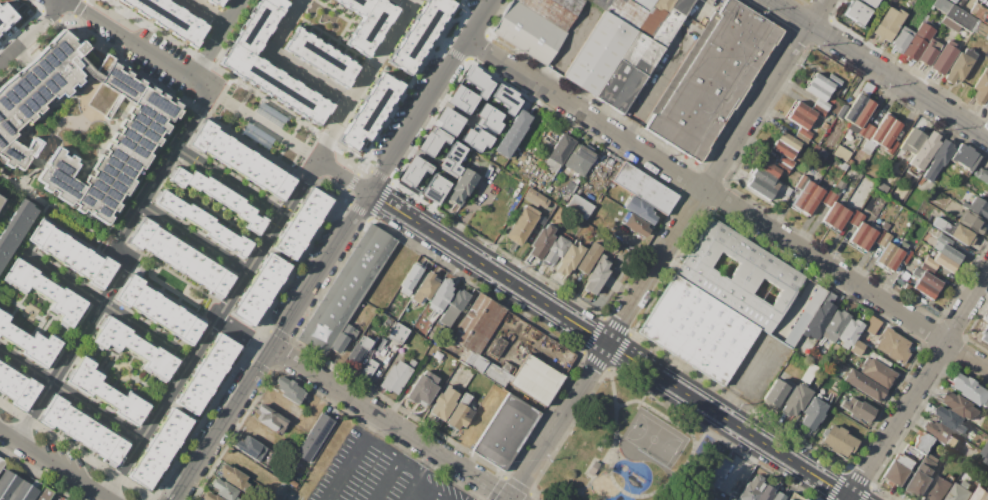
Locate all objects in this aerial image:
road: (65, 1)
building: (953, 1)
building: (216, 2)
road: (411, 2)
building: (869, 2)
building: (645, 3)
building: (357, 5)
building: (942, 5)
building: (554, 10)
road: (700, 10)
building: (624, 11)
building: (856, 11)
building: (979, 12)
road: (204, 13)
building: (5, 14)
building: (172, 17)
building: (654, 17)
building: (961, 18)
building: (944, 20)
building: (671, 21)
building: (889, 22)
building: (370, 26)
building: (981, 30)
building: (528, 32)
road: (33, 33)
building: (418, 33)
road: (216, 39)
building: (901, 39)
building: (918, 41)
road: (138, 47)
road: (568, 47)
building: (928, 52)
building: (599, 53)
building: (320, 57)
parking lot: (162, 58)
building: (944, 58)
road: (287, 63)
building: (959, 66)
road: (878, 69)
building: (629, 72)
road: (367, 80)
building: (478, 80)
building: (834, 80)
building: (712, 81)
building: (822, 82)
building: (273, 84)
road: (655, 85)
building: (981, 87)
building: (817, 90)
road: (431, 96)
building: (460, 97)
building: (506, 97)
building: (822, 104)
building: (986, 104)
building: (855, 108)
building: (369, 110)
building: (818, 110)
building: (804, 111)
building: (842, 111)
building: (863, 113)
building: (270, 114)
building: (489, 116)
road: (78, 119)
building: (798, 119)
building: (447, 120)
park: (266, 123)
road: (264, 126)
building: (825, 126)
building: (142, 128)
building: (863, 128)
building: (881, 128)
building: (804, 132)
building: (869, 132)
building: (513, 133)
building: (890, 134)
building: (258, 135)
building: (474, 138)
building: (800, 138)
building: (431, 141)
building: (788, 141)
building: (912, 141)
building: (868, 146)
building: (891, 147)
building: (816, 148)
building: (783, 149)
building: (924, 150)
building: (559, 152)
building: (823, 153)
building: (841, 153)
building: (965, 157)
building: (242, 158)
building: (938, 158)
building: (450, 159)
building: (580, 159)
building: (786, 161)
building: (850, 162)
building: (842, 166)
building: (768, 167)
building: (782, 167)
road: (161, 170)
building: (907, 170)
building: (411, 171)
road: (343, 176)
building: (983, 176)
building: (764, 177)
road: (229, 182)
building: (802, 182)
building: (462, 186)
building: (838, 187)
building: (434, 188)
building: (644, 188)
building: (760, 188)
building: (788, 191)
building: (803, 195)
building: (824, 195)
building: (220, 197)
building: (535, 198)
building: (783, 199)
building: (831, 199)
building: (852, 200)
building: (1, 201)
building: (811, 201)
road: (727, 204)
road: (9, 206)
building: (579, 207)
road: (470, 208)
building: (978, 208)
building: (639, 209)
road: (56, 212)
building: (831, 214)
building: (852, 216)
building: (839, 219)
building: (857, 220)
building: (971, 222)
building: (203, 223)
building: (301, 223)
building: (522, 224)
building: (635, 225)
building: (537, 226)
building: (885, 226)
building: (943, 226)
building: (16, 230)
building: (858, 234)
building: (961, 235)
building: (878, 236)
road: (194, 238)
building: (867, 239)
building: (885, 240)
building: (944, 240)
building: (541, 241)
building: (937, 245)
building: (902, 246)
road: (668, 249)
building: (555, 250)
building: (72, 253)
road: (121, 253)
building: (949, 253)
building: (885, 254)
building: (588, 257)
building: (181, 258)
building: (569, 258)
building: (894, 259)
building: (902, 262)
building: (930, 262)
building: (944, 262)
building: (926, 268)
building: (739, 275)
building: (596, 276)
building: (410, 279)
building: (929, 280)
building: (425, 288)
building: (924, 288)
building: (258, 289)
building: (347, 289)
building: (909, 290)
building: (51, 293)
building: (440, 296)
road: (99, 302)
building: (453, 306)
building: (158, 309)
building: (985, 315)
building: (804, 316)
building: (818, 320)
building: (478, 324)
building: (834, 325)
road: (211, 330)
building: (699, 330)
building: (849, 332)
building: (984, 332)
building: (398, 333)
building: (864, 335)
road: (244, 336)
building: (344, 338)
building: (28, 340)
building: (892, 345)
road: (273, 346)
road: (612, 346)
building: (135, 347)
building: (801, 349)
road: (72, 350)
building: (359, 350)
building: (485, 367)
building: (368, 369)
building: (876, 371)
road: (376, 373)
building: (397, 376)
building: (535, 380)
building: (863, 385)
building: (16, 386)
road: (748, 386)
building: (422, 389)
road: (917, 389)
building: (968, 389)
building: (289, 390)
building: (108, 392)
building: (775, 393)
road: (71, 395)
building: (795, 400)
building: (444, 403)
building: (957, 405)
building: (857, 410)
building: (185, 411)
road: (639, 411)
building: (460, 413)
building: (812, 413)
road: (661, 416)
building: (270, 420)
building: (950, 420)
road: (391, 424)
building: (87, 429)
building: (505, 431)
building: (940, 433)
building: (314, 438)
park: (657, 439)
building: (838, 441)
building: (919, 446)
building: (250, 448)
park: (629, 451)
building: (986, 452)
road: (351, 458)
road: (398, 458)
road: (648, 459)
building: (2, 462)
road: (53, 466)
building: (594, 467)
building: (718, 467)
road: (743, 467)
building: (896, 470)
parking lot: (377, 473)
building: (919, 476)
building: (234, 478)
building: (713, 480)
building: (8, 485)
road: (601, 486)
road: (616, 486)
road: (428, 487)
building: (751, 488)
road: (409, 489)
building: (938, 489)
building: (27, 490)
building: (225, 490)
building: (961, 491)
road: (575, 492)
road: (603, 492)
building: (765, 493)
building: (981, 493)
building: (44, 494)
road: (432, 496)
building: (777, 496)
building: (211, 497)
building: (715, 497)
building: (788, 499)
building: (803, 499)
building: (805, 499)

